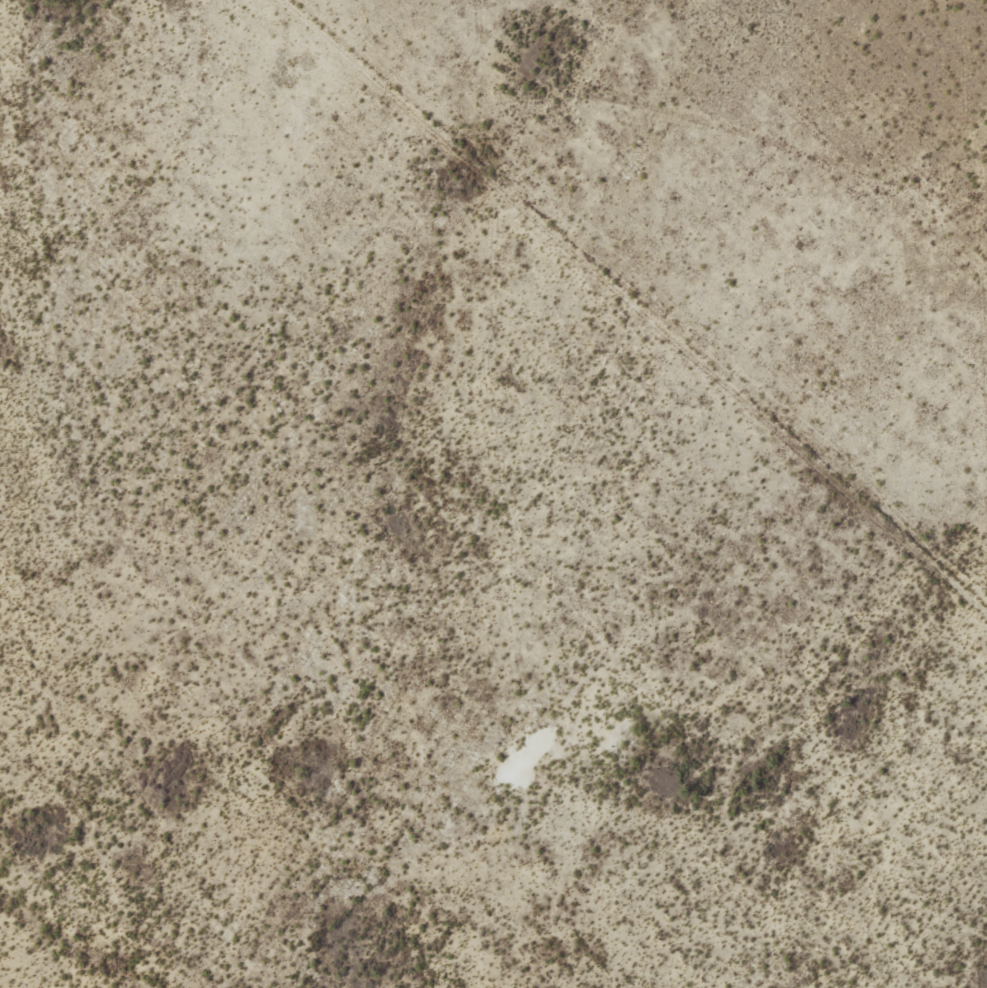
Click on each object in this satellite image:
road: (640, 301)

